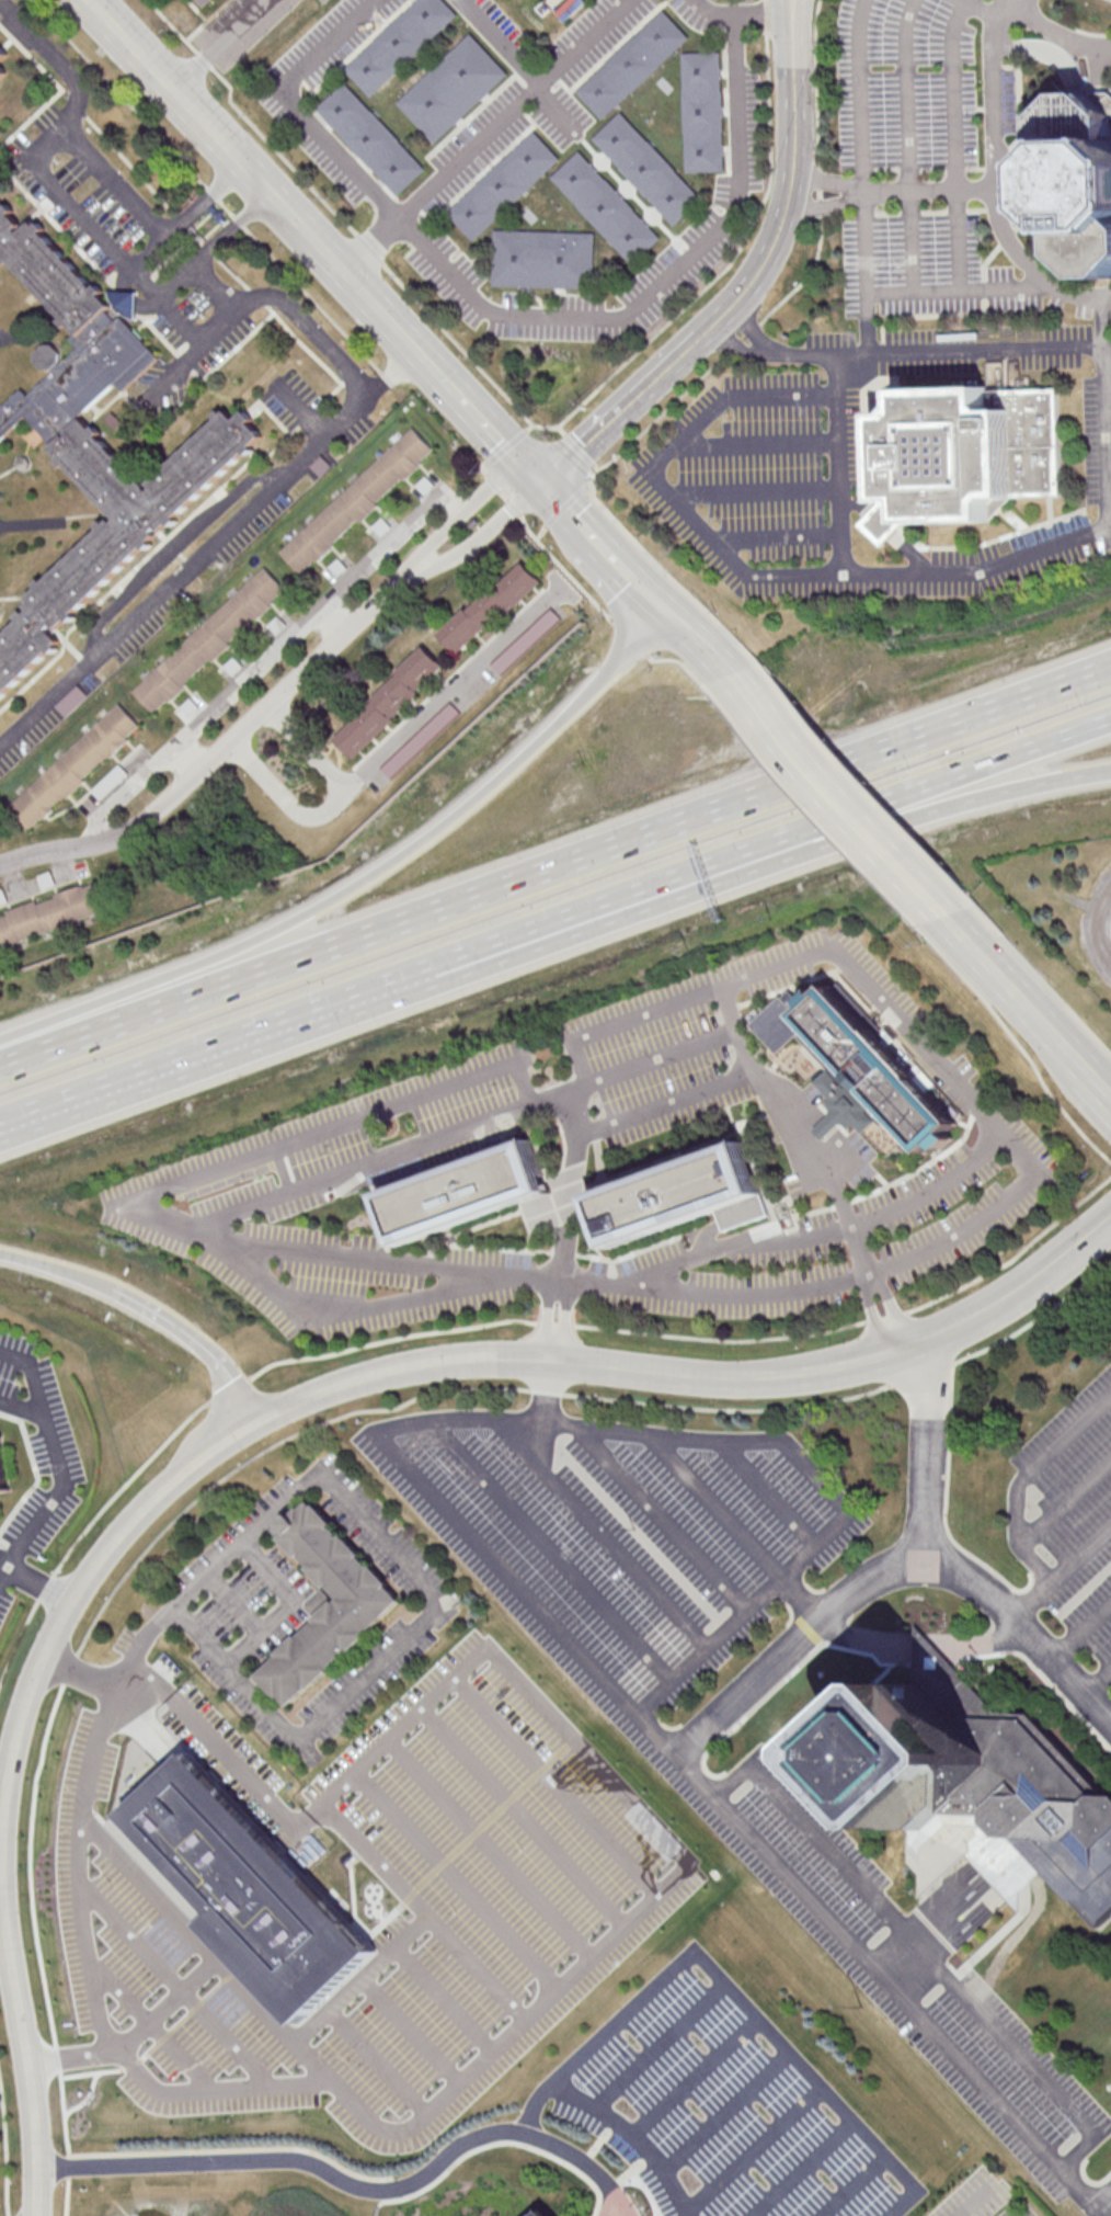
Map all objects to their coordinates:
road: (1024, 2)
building: (207, 3)
road: (1010, 3)
road: (1019, 5)
road: (978, 8)
road: (714, 10)
road: (1005, 13)
road: (761, 15)
road: (767, 16)
road: (1065, 32)
road: (798, 33)
road: (790, 34)
road: (38, 41)
road: (217, 42)
building: (401, 45)
road: (522, 60)
building: (1, 64)
road: (38, 64)
building: (630, 65)
building: (451, 90)
road: (296, 109)
building: (703, 114)
road: (31, 116)
building: (373, 141)
road: (955, 143)
road: (908, 144)
road: (239, 156)
building: (651, 170)
road: (821, 178)
road: (115, 179)
building: (1086, 181)
building: (503, 186)
road: (917, 190)
road: (211, 192)
road: (858, 193)
road: (820, 206)
building: (606, 211)
road: (188, 214)
road: (85, 217)
road: (215, 243)
road: (207, 246)
road: (371, 249)
building: (542, 260)
road: (1029, 266)
road: (99, 270)
road: (866, 274)
road: (804, 281)
road: (958, 288)
building: (123, 303)
road: (731, 308)
road: (240, 310)
road: (505, 312)
road: (749, 320)
road: (1101, 321)
road: (402, 331)
road: (730, 341)
road: (232, 352)
road: (507, 397)
road: (469, 402)
road: (561, 429)
building: (96, 440)
road: (758, 443)
road: (509, 444)
road: (579, 448)
building: (966, 456)
road: (527, 465)
road: (483, 468)
traffic signals: (534, 473)
road: (592, 473)
road: (537, 476)
road: (839, 486)
road: (756, 492)
road: (504, 493)
building: (357, 500)
road: (565, 501)
road: (562, 503)
road: (231, 529)
road: (540, 532)
road: (778, 537)
road: (165, 541)
road: (389, 544)
road: (610, 554)
road: (427, 561)
road: (563, 567)
road: (992, 569)
road: (649, 595)
building: (489, 606)
traffic signals: (663, 611)
building: (209, 639)
road: (691, 641)
road: (450, 694)
building: (389, 702)
road: (211, 714)
building: (421, 739)
road: (229, 745)
road: (186, 761)
building: (75, 765)
road: (834, 795)
road: (332, 806)
road: (755, 845)
road: (555, 866)
road: (755, 870)
road: (364, 875)
building: (50, 916)
building: (1110, 930)
road: (987, 961)
building: (799, 999)
road: (625, 1022)
road: (1042, 1022)
road: (202, 1054)
road: (1074, 1057)
building: (859, 1069)
road: (953, 1072)
road: (1101, 1086)
road: (666, 1100)
road: (787, 1110)
road: (1091, 1140)
road: (278, 1148)
road: (356, 1166)
building: (462, 1192)
building: (682, 1195)
road: (840, 1229)
road: (356, 1255)
road: (57, 1269)
road: (719, 1282)
road: (496, 1322)
road: (197, 1341)
road: (700, 1377)
road: (548, 1391)
road: (22, 1407)
road: (802, 1459)
building: (3, 1469)
road: (702, 1488)
road: (58, 1490)
road: (767, 1491)
road: (1018, 1500)
road: (1066, 1503)
road: (662, 1520)
road: (604, 1537)
road: (551, 1549)
road: (1079, 1549)
road: (948, 1558)
road: (3, 1566)
road: (3, 1575)
road: (290, 1607)
road: (1083, 1630)
building: (329, 1637)
road: (872, 1639)
road: (987, 1640)
road: (929, 1645)
road: (709, 1646)
road: (801, 1648)
road: (504, 1666)
road: (375, 1667)
road: (1099, 1681)
building: (914, 1755)
road: (677, 1764)
road: (11, 1771)
road: (559, 1785)
building: (1027, 1786)
road: (524, 1819)
road: (492, 1850)
road: (834, 1856)
road: (1, 1864)
road: (458, 1883)
building: (245, 1887)
road: (424, 1914)
road: (2, 1922)
road: (204, 1944)
road: (358, 1978)
road: (175, 1984)
road: (733, 1992)
road: (445, 1998)
road: (168, 2005)
road: (151, 2026)
road: (410, 2031)
road: (658, 2044)
road: (1024, 2060)
road: (376, 2061)
road: (696, 2076)
road: (725, 2112)
road: (632, 2133)
road: (752, 2146)
road: (4, 2154)
road: (291, 2158)
road: (582, 2163)
road: (800, 2168)
road: (67, 2177)
road: (852, 2185)
road: (1102, 2197)
road: (974, 2202)
road: (608, 2205)
building: (542, 2213)

